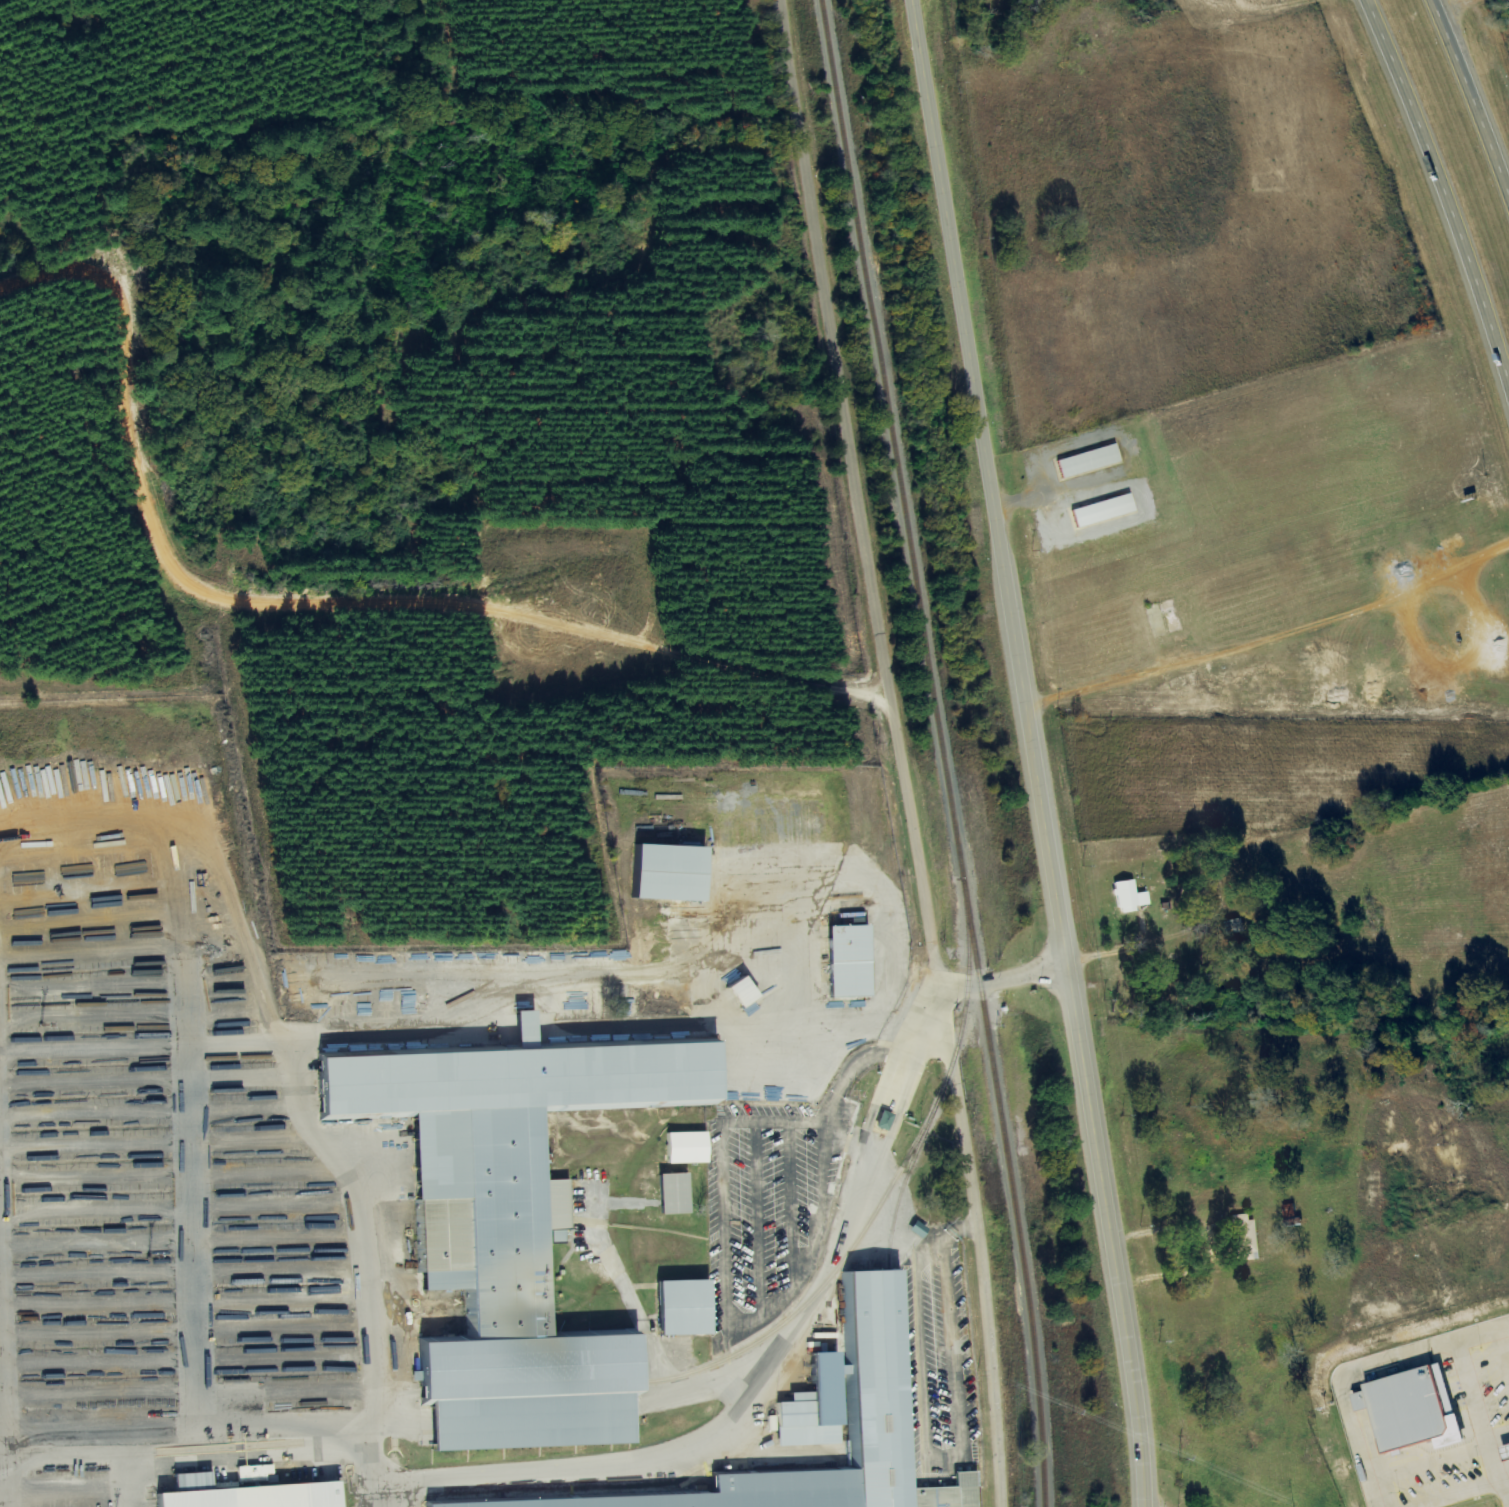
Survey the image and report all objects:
road: (1476, 84)
road: (1442, 183)
building: (1090, 461)
building: (1105, 511)
road: (900, 752)
railway: (940, 752)
road: (1034, 752)
building: (675, 873)
building: (1126, 897)
building: (853, 961)
building: (746, 992)
railway: (945, 1082)
building: (886, 1120)
building: (690, 1147)
building: (677, 1193)
building: (517, 1224)
building: (920, 1229)
building: (1245, 1238)
building: (689, 1307)
road: (812, 1345)
building: (1416, 1411)
building: (1508, 1449)
building: (253, 1491)

